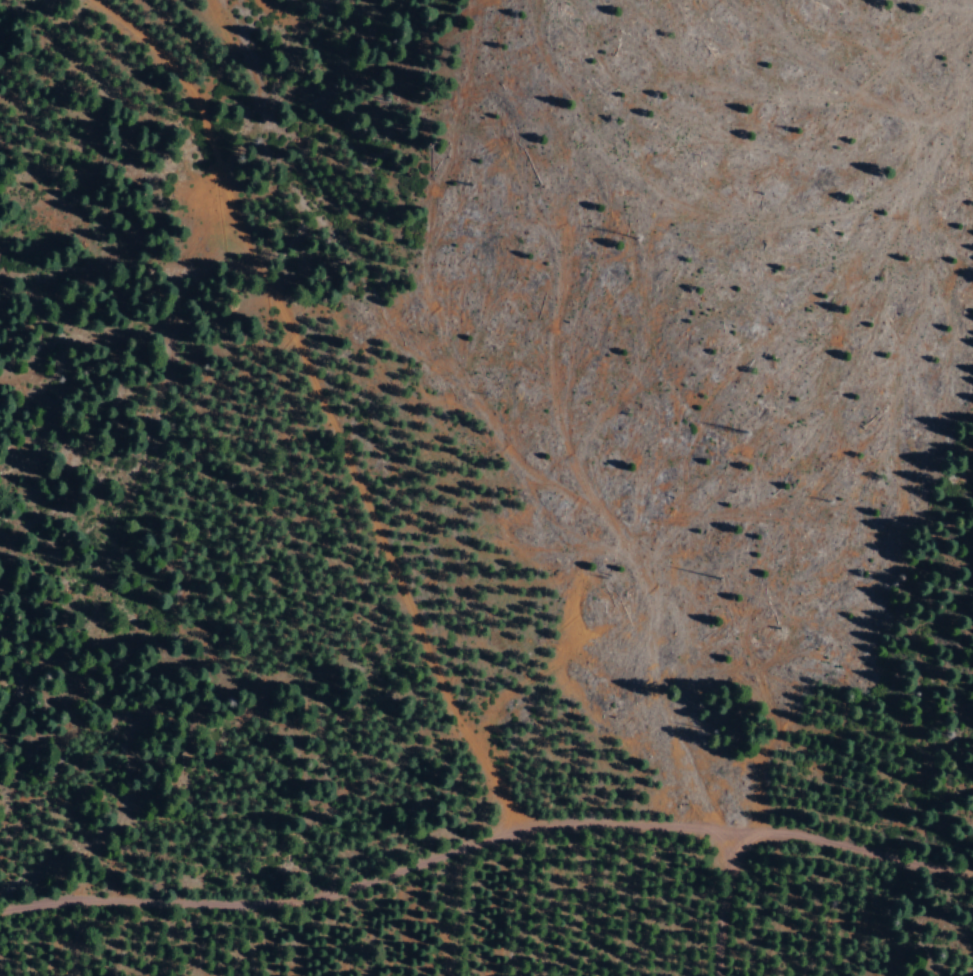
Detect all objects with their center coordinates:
road: (339, 393)
road: (413, 857)
road: (840, 869)

